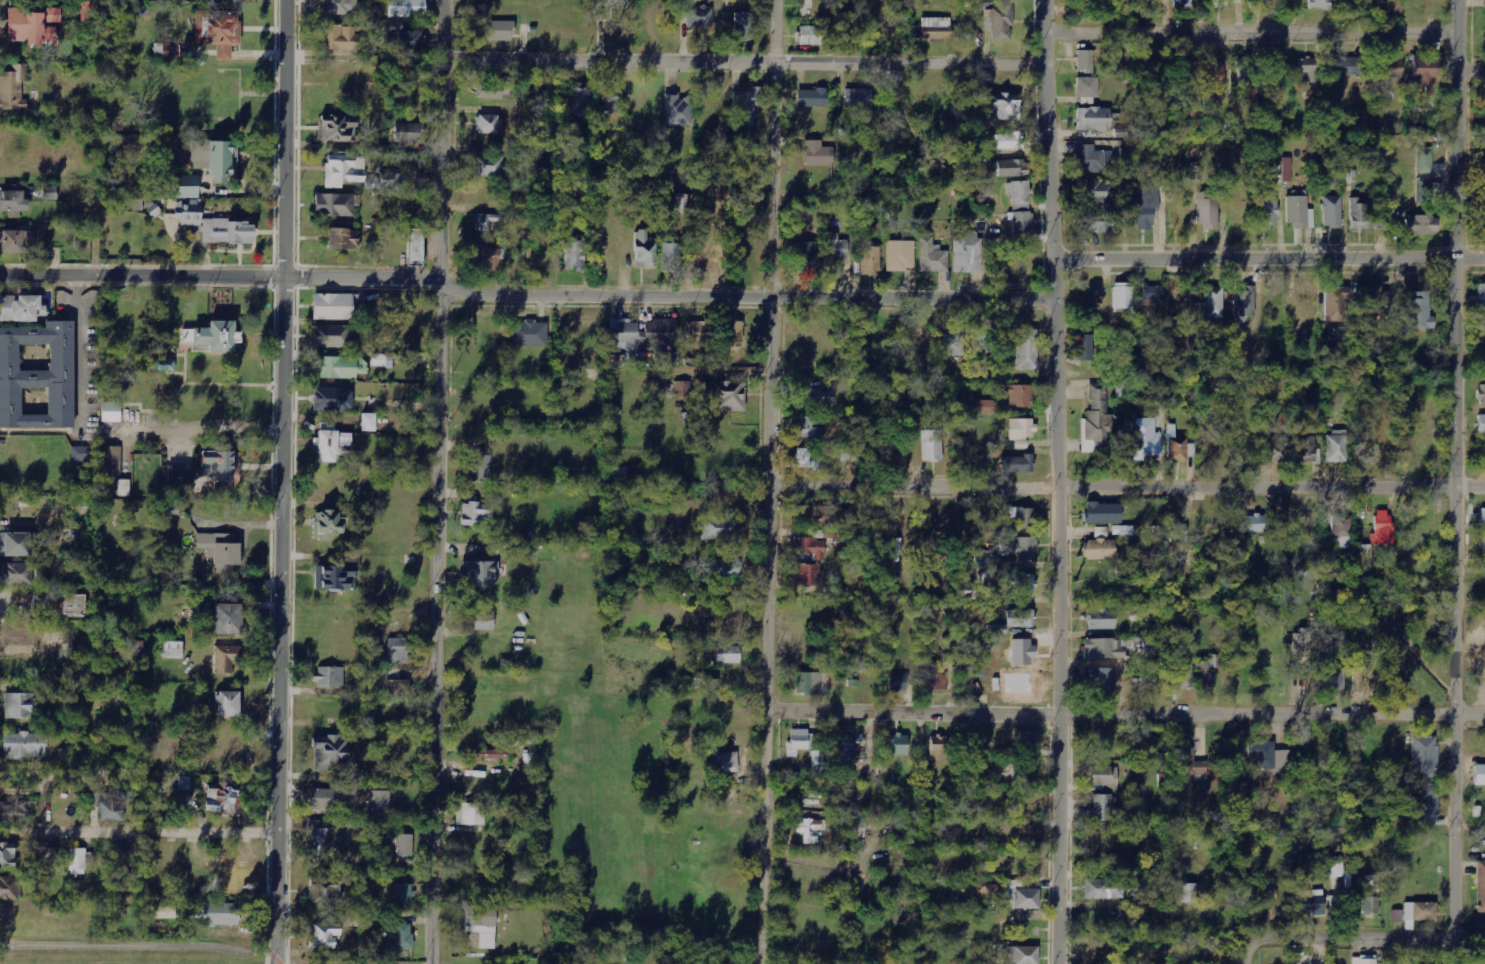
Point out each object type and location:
building: (1182, 1)
building: (612, 3)
building: (1090, 3)
building: (1224, 3)
building: (1260, 3)
building: (231, 4)
building: (1320, 4)
building: (340, 7)
building: (407, 8)
building: (87, 10)
building: (700, 16)
building: (999, 21)
building: (33, 25)
building: (108, 25)
building: (743, 26)
building: (936, 28)
building: (217, 31)
building: (498, 31)
road: (1251, 34)
building: (811, 35)
building: (339, 37)
building: (411, 40)
building: (1085, 61)
road: (743, 64)
building: (1347, 66)
building: (1309, 69)
building: (1390, 69)
road: (1471, 71)
building: (1424, 72)
building: (1088, 87)
building: (1213, 87)
building: (13, 88)
building: (493, 93)
building: (811, 98)
building: (858, 98)
building: (580, 101)
building: (747, 104)
building: (609, 105)
building: (1005, 106)
building: (677, 110)
building: (1093, 119)
building: (489, 124)
building: (1182, 126)
building: (337, 128)
building: (407, 132)
building: (1009, 141)
building: (170, 143)
building: (818, 153)
building: (199, 154)
building: (1094, 158)
building: (223, 161)
building: (1425, 161)
building: (488, 164)
building: (1012, 168)
building: (1287, 169)
building: (343, 170)
building: (1197, 172)
building: (393, 180)
building: (185, 187)
building: (1484, 189)
building: (1424, 190)
building: (1097, 192)
building: (48, 193)
building: (13, 203)
building: (681, 203)
building: (334, 205)
building: (1021, 206)
building: (1147, 206)
building: (1208, 210)
building: (1300, 212)
building: (1332, 212)
building: (1267, 213)
building: (1360, 213)
building: (190, 214)
building: (1381, 219)
building: (485, 221)
building: (1097, 221)
building: (1421, 225)
building: (226, 232)
building: (340, 239)
building: (15, 241)
building: (82, 241)
building: (415, 247)
building: (836, 247)
building: (644, 250)
building: (968, 253)
building: (576, 255)
building: (806, 255)
building: (901, 255)
building: (933, 256)
building: (487, 257)
building: (670, 257)
road: (1268, 259)
building: (871, 260)
road: (220, 278)
building: (1153, 293)
building: (1123, 296)
road: (748, 299)
building: (1480, 301)
building: (1245, 302)
building: (1370, 303)
building: (1210, 304)
building: (1337, 305)
building: (336, 306)
building: (20, 308)
building: (1306, 309)
building: (1420, 311)
building: (662, 333)
building: (734, 333)
building: (529, 334)
building: (626, 334)
building: (695, 334)
building: (211, 335)
building: (331, 336)
building: (982, 341)
building: (951, 342)
building: (1024, 347)
building: (1086, 347)
building: (726, 355)
building: (671, 359)
building: (164, 365)
building: (339, 367)
park: (192, 368)
building: (38, 378)
building: (682, 389)
building: (1482, 394)
building: (1019, 395)
building: (725, 396)
building: (815, 397)
building: (332, 398)
building: (985, 407)
building: (111, 412)
building: (1097, 421)
building: (367, 422)
building: (1481, 424)
building: (810, 427)
building: (1022, 429)
building: (1146, 440)
building: (330, 442)
building: (932, 445)
building: (1337, 447)
building: (1277, 449)
building: (1307, 449)
building: (79, 454)
building: (848, 454)
building: (810, 458)
building: (111, 461)
building: (1017, 464)
building: (480, 466)
building: (221, 468)
building: (180, 473)
road: (439, 481)
road: (770, 481)
road: (1055, 481)
road: (281, 482)
road: (1457, 482)
road: (1127, 484)
building: (124, 488)
building: (1103, 513)
building: (476, 514)
building: (811, 515)
building: (1023, 517)
building: (1483, 519)
building: (326, 524)
building: (1252, 524)
building: (1383, 527)
building: (720, 528)
building: (1340, 528)
building: (1175, 532)
building: (15, 544)
building: (1484, 545)
building: (813, 548)
building: (1022, 549)
building: (1099, 549)
building: (221, 551)
building: (804, 559)
building: (728, 568)
building: (479, 573)
building: (21, 574)
building: (809, 574)
building: (334, 577)
building: (1017, 582)
building: (39, 604)
building: (73, 604)
building: (227, 619)
building: (1021, 619)
building: (1101, 619)
building: (481, 621)
building: (998, 630)
building: (21, 633)
building: (1117, 647)
building: (1302, 648)
building: (173, 649)
building: (399, 651)
building: (728, 655)
building: (226, 658)
building: (1206, 673)
building: (934, 676)
building: (330, 677)
building: (1184, 677)
building: (1100, 680)
building: (1334, 680)
building: (808, 683)
building: (897, 683)
building: (399, 689)
building: (227, 704)
building: (25, 705)
road: (1125, 716)
building: (1027, 741)
building: (804, 742)
building: (898, 744)
building: (24, 745)
building: (330, 753)
building: (938, 753)
building: (488, 754)
building: (1425, 757)
building: (844, 759)
building: (1270, 759)
building: (818, 761)
building: (726, 762)
building: (1191, 763)
building: (884, 767)
building: (1024, 772)
building: (1480, 775)
building: (1103, 776)
building: (185, 784)
building: (222, 798)
building: (324, 798)
building: (111, 804)
building: (379, 804)
building: (1425, 804)
building: (1102, 808)
building: (470, 814)
road: (139, 829)
building: (810, 831)
building: (319, 842)
building: (405, 845)
building: (7, 855)
building: (46, 857)
building: (77, 861)
building: (127, 862)
building: (1335, 867)
building: (1370, 882)
building: (1481, 886)
building: (9, 889)
building: (1104, 889)
building: (1138, 890)
building: (325, 892)
building: (405, 893)
building: (1189, 893)
building: (1022, 899)
building: (1272, 905)
building: (1312, 905)
building: (163, 912)
building: (1419, 913)
building: (217, 914)
building: (1398, 916)
building: (482, 925)
building: (324, 936)
building: (403, 937)
road: (1356, 937)
road: (1, 945)
road: (223, 945)
building: (1021, 955)
building: (1097, 955)

